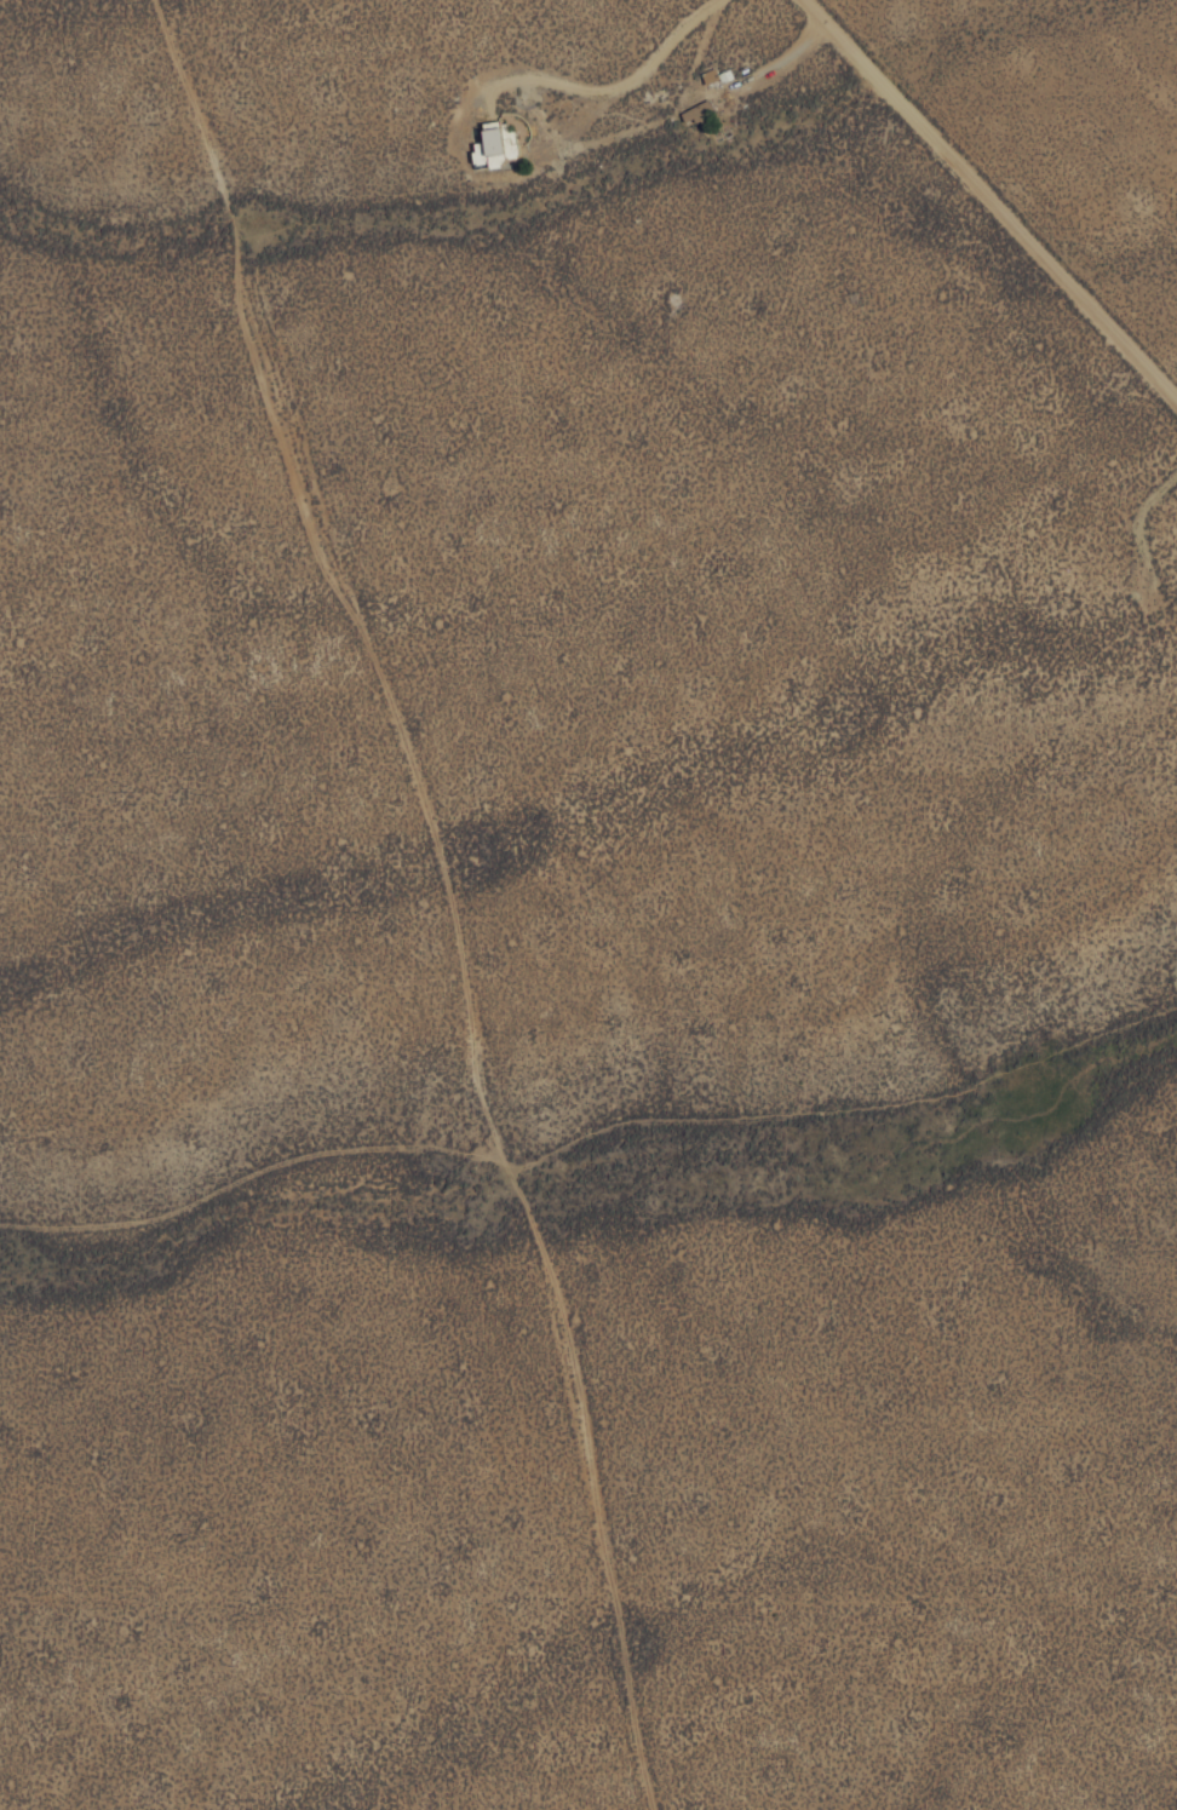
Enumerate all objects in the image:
road: (989, 202)

